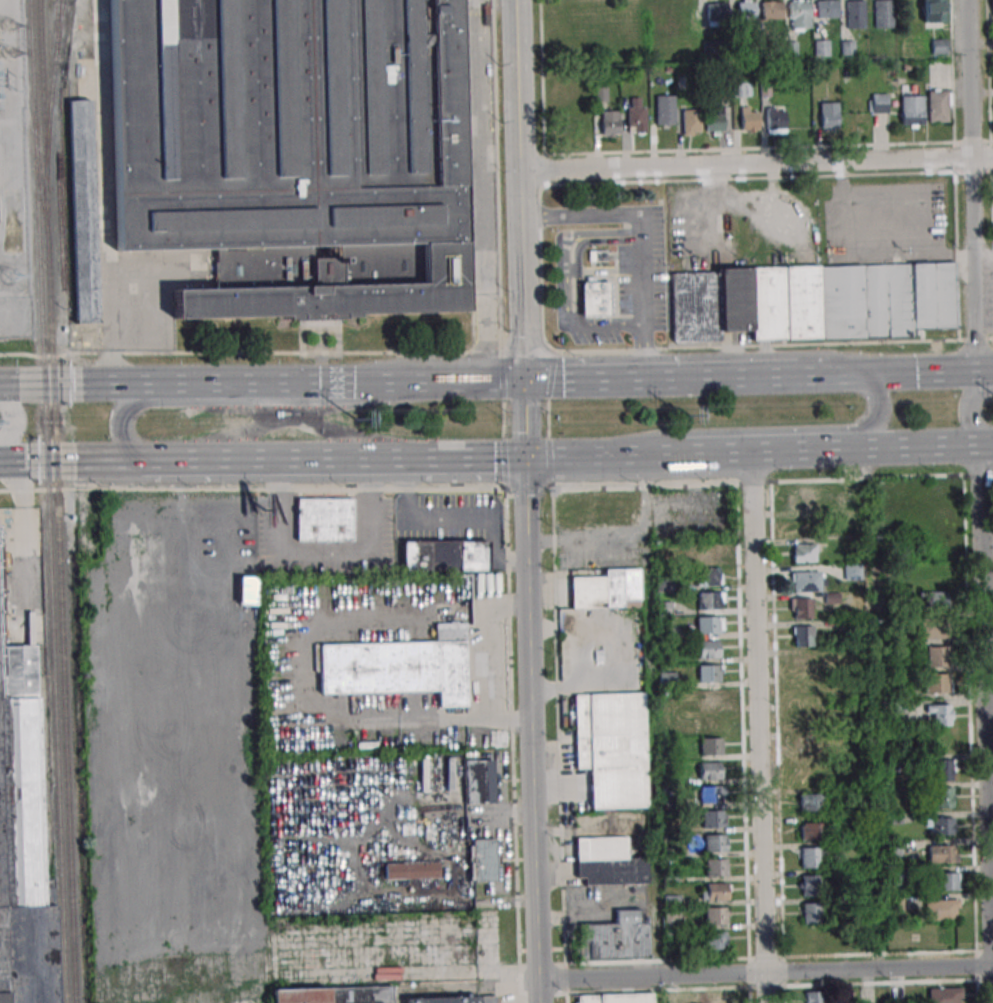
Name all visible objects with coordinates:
building: (827, 9)
building: (992, 10)
railway: (58, 11)
building: (772, 11)
building: (715, 12)
building: (799, 14)
building: (855, 14)
building: (883, 14)
building: (934, 14)
building: (939, 46)
building: (820, 47)
railway: (53, 82)
building: (742, 89)
building: (878, 103)
building: (938, 105)
building: (664, 109)
building: (912, 110)
building: (634, 115)
building: (826, 116)
building: (749, 119)
building: (775, 120)
building: (715, 121)
building: (690, 122)
building: (609, 123)
building: (297, 153)
road: (757, 163)
power substation: (14, 180)
road: (973, 185)
road: (522, 190)
road: (485, 193)
building: (83, 211)
railway: (38, 230)
road: (983, 254)
power tower: (8, 279)
building: (595, 299)
building: (812, 302)
road: (496, 352)
road: (898, 372)
traffic signals: (864, 374)
road: (717, 378)
road: (577, 380)
traffic signals: (524, 381)
road: (439, 382)
road: (198, 383)
road: (22, 385)
road: (250, 403)
road: (969, 410)
road: (12, 416)
power tower: (684, 416)
road: (525, 419)
power tower: (354, 421)
road: (764, 430)
road: (917, 446)
road: (758, 451)
road: (600, 456)
traffic signals: (526, 457)
road: (340, 458)
road: (77, 459)
road: (496, 487)
building: (801, 498)
railway: (58, 501)
building: (851, 501)
building: (600, 507)
road: (453, 516)
building: (323, 520)
building: (851, 525)
road: (527, 550)
building: (803, 552)
building: (707, 553)
building: (444, 556)
building: (853, 573)
building: (708, 576)
building: (806, 581)
building: (607, 590)
building: (710, 600)
building: (933, 600)
building: (800, 607)
building: (709, 625)
building: (934, 629)
building: (803, 636)
road: (489, 641)
building: (708, 649)
building: (937, 656)
building: (806, 664)
building: (400, 666)
building: (709, 673)
building: (936, 683)
building: (804, 693)
building: (712, 697)
road: (303, 712)
building: (941, 714)
road: (511, 718)
building: (806, 719)
building: (710, 722)
road: (984, 723)
road: (758, 727)
railway: (57, 731)
building: (710, 746)
building: (804, 747)
building: (612, 748)
building: (943, 770)
building: (709, 771)
building: (480, 776)
building: (712, 794)
building: (943, 797)
building: (810, 802)
building: (713, 819)
road: (533, 823)
building: (939, 826)
building: (811, 830)
building: (22, 839)
building: (715, 843)
building: (942, 853)
building: (811, 856)
building: (483, 860)
building: (608, 862)
building: (716, 867)
building: (411, 870)
building: (895, 877)
building: (945, 881)
building: (809, 885)
building: (714, 892)
building: (941, 907)
building: (809, 913)
building: (715, 915)
building: (671, 916)
building: (617, 937)
building: (715, 940)
road: (765, 973)
building: (333, 992)
building: (943, 995)
building: (454, 997)
building: (614, 998)
building: (716, 998)
building: (2, 999)
building: (813, 999)

